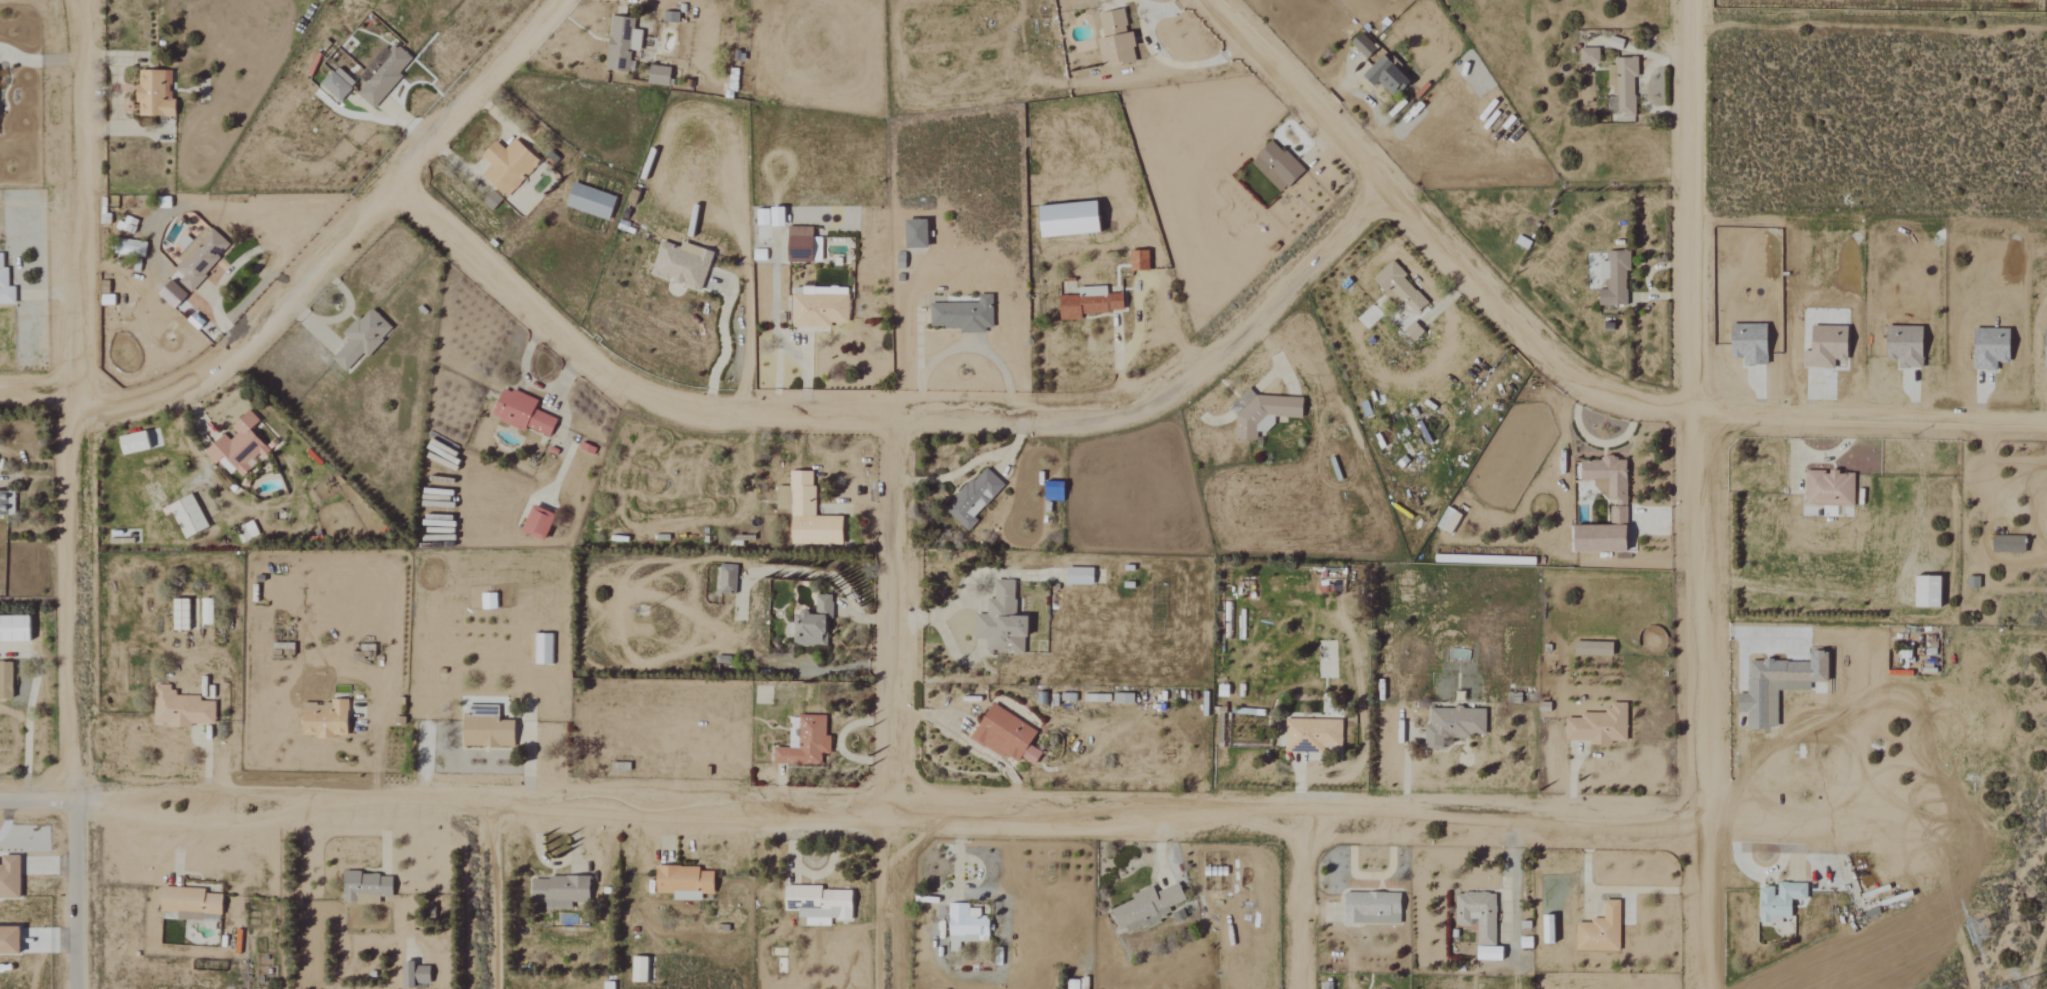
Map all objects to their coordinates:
building: (1113, 38)
building: (620, 44)
building: (1361, 45)
building: (1587, 56)
road: (1159, 59)
road: (36, 60)
building: (657, 75)
building: (1384, 76)
building: (335, 84)
building: (1621, 88)
building: (152, 93)
road: (117, 98)
road: (1369, 102)
road: (409, 124)
building: (506, 166)
building: (1275, 166)
building: (588, 201)
building: (768, 217)
building: (1066, 219)
road: (1870, 221)
building: (914, 234)
road: (334, 239)
building: (801, 245)
road: (1424, 245)
building: (758, 255)
building: (198, 257)
road: (244, 257)
building: (1137, 261)
building: (680, 264)
building: (1613, 278)
building: (5, 287)
building: (1397, 287)
building: (169, 294)
building: (1088, 303)
building: (818, 307)
road: (341, 314)
building: (962, 315)
building: (1411, 331)
building: (360, 339)
road: (969, 344)
building: (1748, 344)
road: (724, 346)
building: (1903, 346)
building: (1824, 347)
road: (788, 348)
building: (1989, 348)
building: (2044, 351)
road: (1120, 358)
road: (529, 382)
road: (38, 392)
road: (75, 400)
road: (882, 409)
road: (1870, 409)
building: (520, 413)
building: (1261, 414)
building: (131, 443)
road: (1598, 444)
building: (236, 447)
road: (1818, 455)
road: (973, 461)
road: (37, 478)
building: (1828, 489)
road: (1695, 494)
building: (972, 498)
building: (4, 505)
building: (1616, 509)
building: (805, 513)
building: (186, 516)
building: (535, 523)
building: (2046, 525)
building: (247, 531)
building: (2007, 544)
building: (1077, 576)
building: (726, 579)
building: (1925, 592)
building: (178, 615)
road: (980, 619)
building: (1000, 622)
building: (811, 624)
building: (13, 629)
building: (541, 649)
building: (4, 680)
building: (1776, 686)
road: (890, 698)
building: (1120, 698)
building: (179, 709)
road: (29, 710)
building: (324, 721)
building: (1453, 725)
building: (1598, 726)
building: (485, 731)
building: (1310, 734)
building: (1004, 736)
building: (805, 743)
road: (970, 743)
road: (35, 801)
road: (980, 811)
road: (7, 818)
building: (8, 876)
building: (682, 882)
building: (365, 887)
building: (557, 890)
road: (74, 895)
road: (499, 899)
building: (1778, 901)
building: (189, 903)
building: (816, 903)
road: (1309, 903)
building: (1145, 907)
building: (1370, 908)
building: (1476, 914)
building: (964, 926)
building: (1546, 929)
power tower: (1981, 929)
building: (1599, 930)
building: (8, 940)
building: (239, 941)
building: (1487, 953)
building: (639, 968)
building: (413, 974)
building: (1071, 984)
building: (607, 985)

